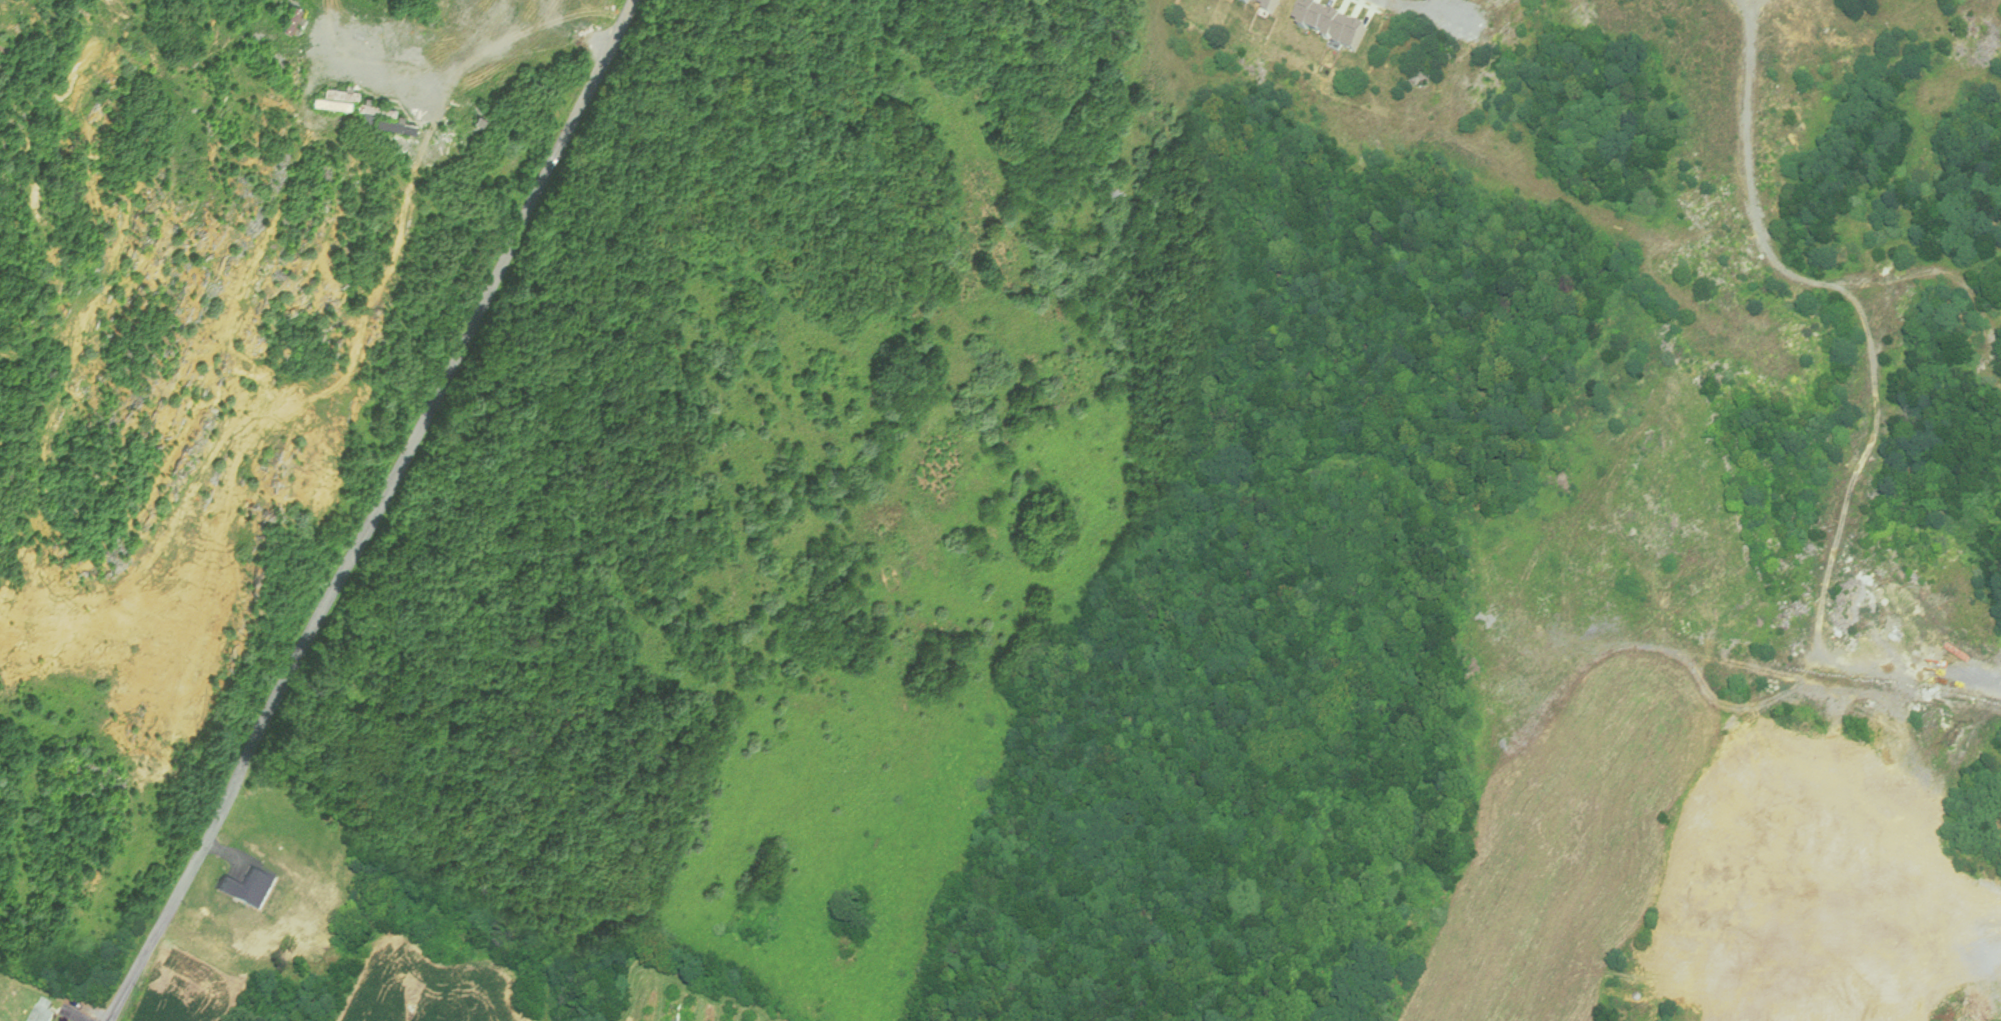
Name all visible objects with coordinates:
road: (322, 12)
building: (335, 98)
building: (375, 107)
road: (374, 513)
building: (42, 1011)

